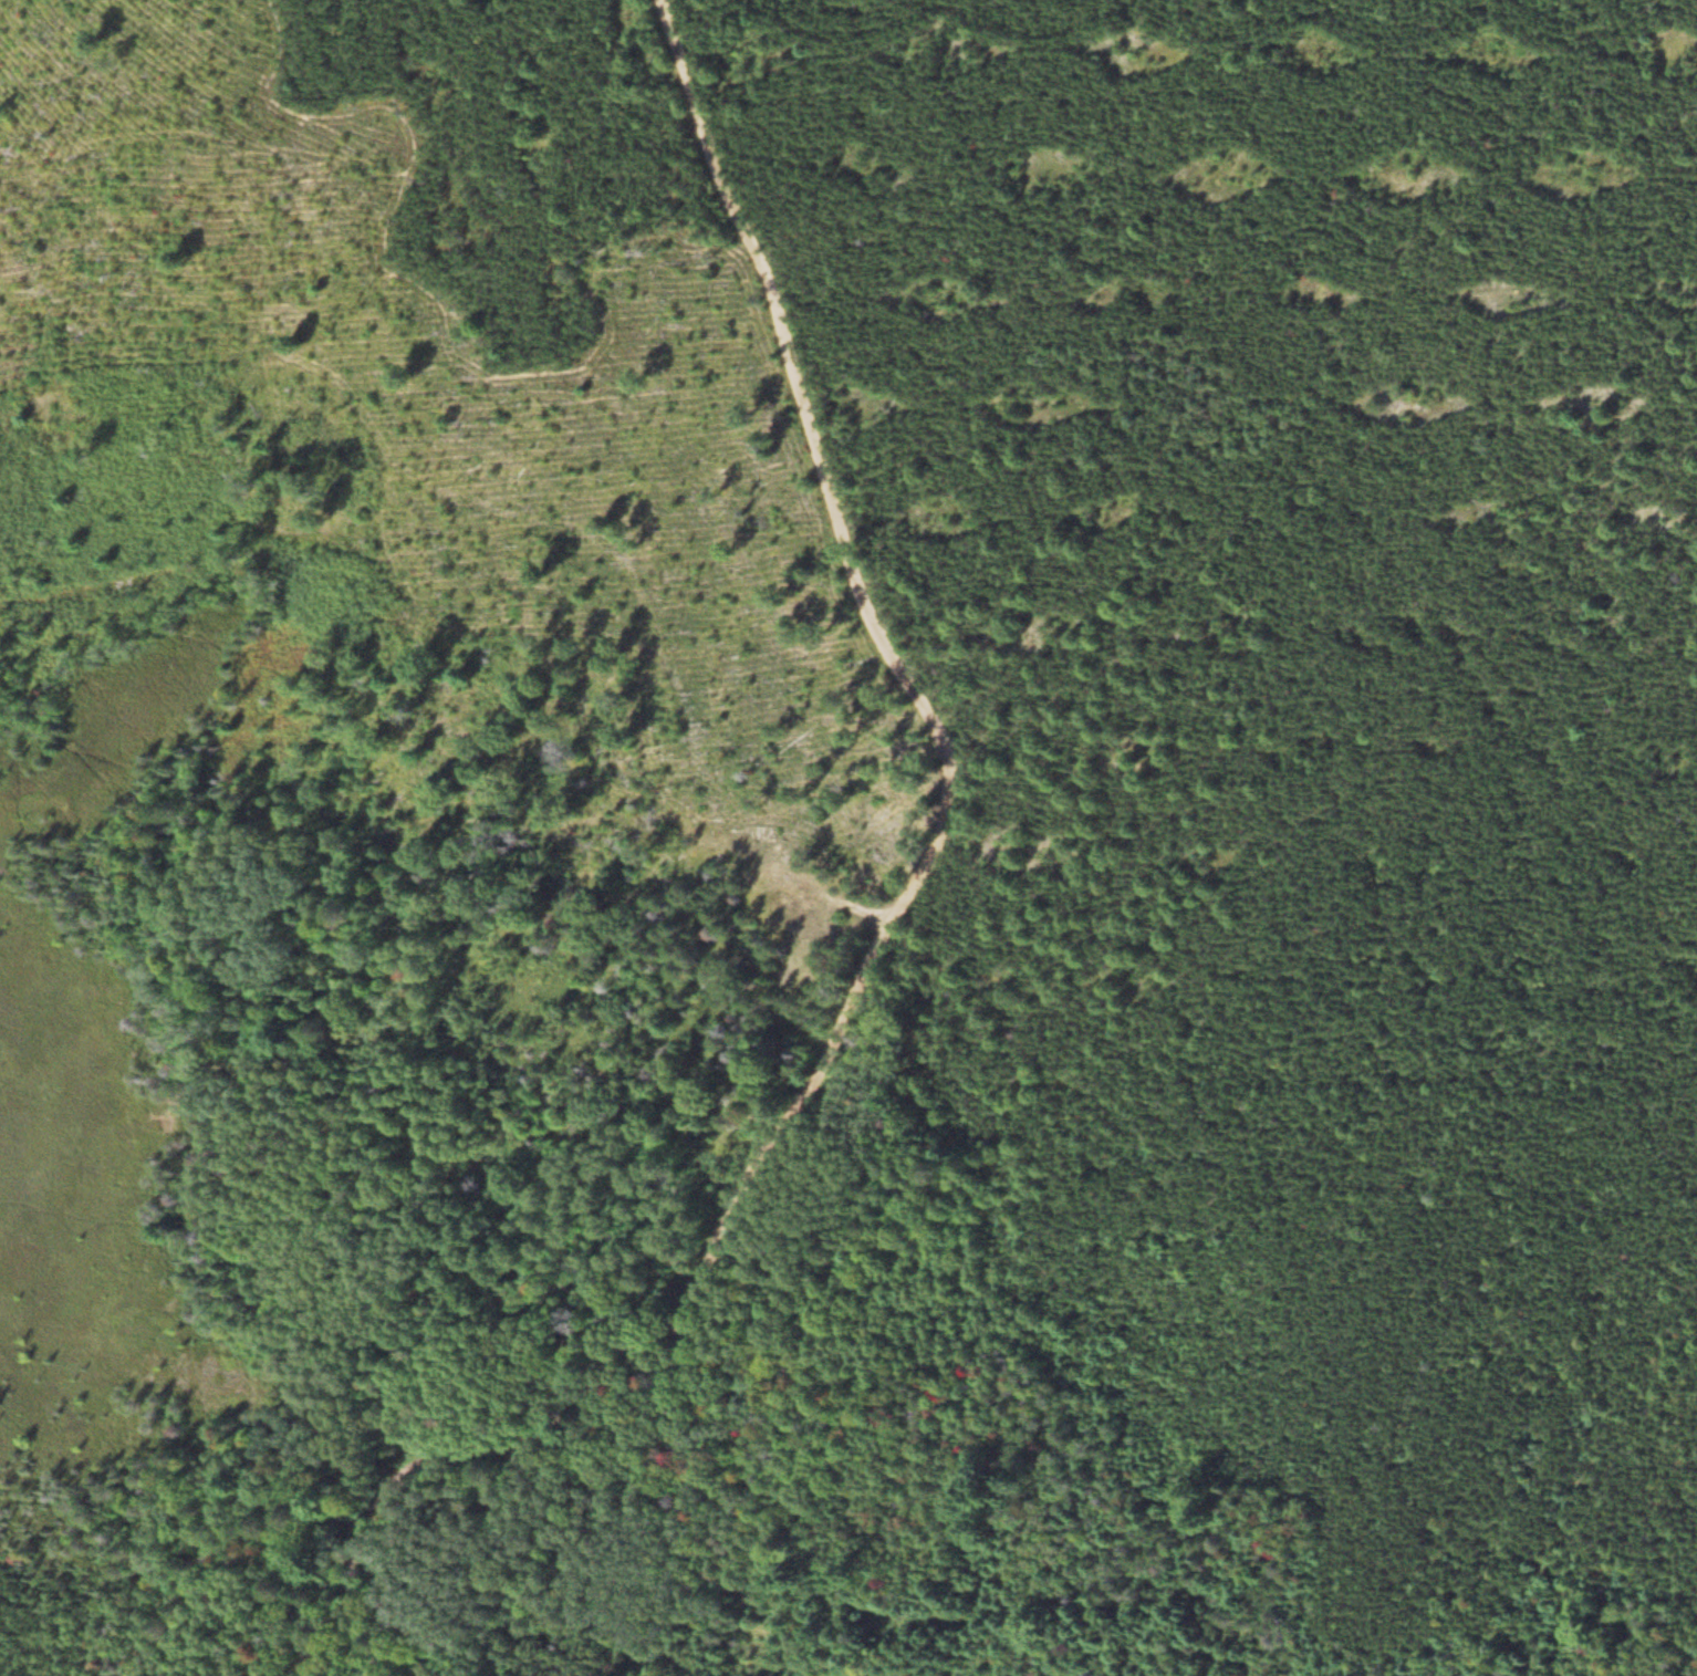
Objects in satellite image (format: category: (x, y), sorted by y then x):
road: (902, 925)

